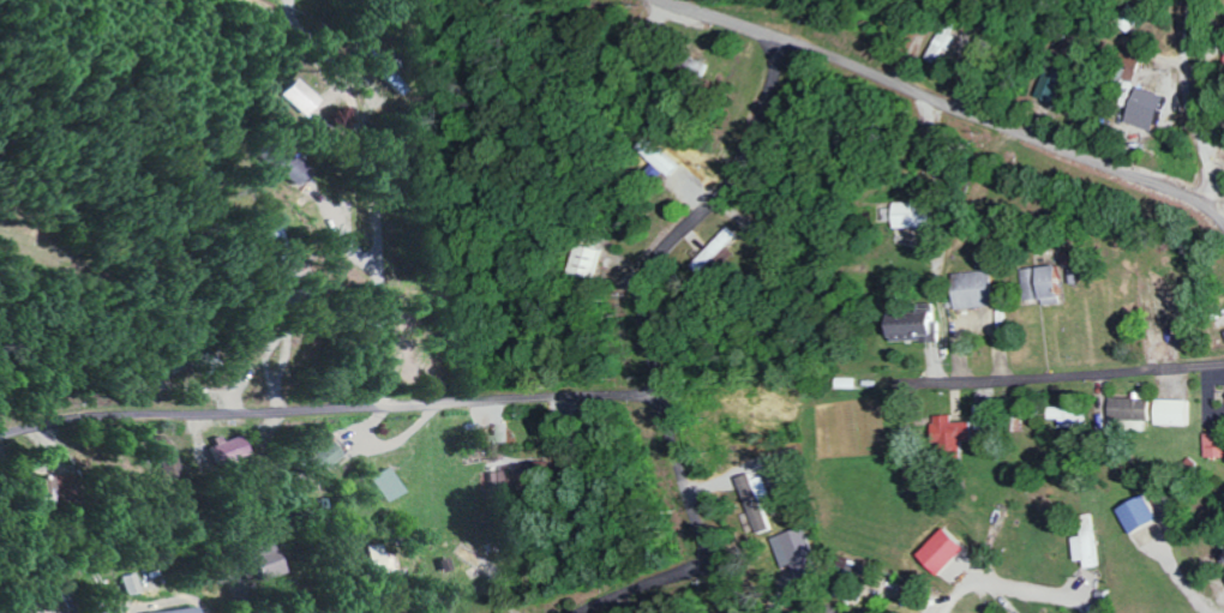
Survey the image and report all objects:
building: (940, 42)
building: (692, 66)
building: (1127, 66)
building: (1050, 84)
building: (301, 96)
road: (941, 106)
building: (1146, 109)
road: (1189, 114)
road: (358, 131)
building: (659, 155)
road: (451, 161)
building: (280, 166)
road: (731, 178)
building: (884, 215)
building: (907, 216)
building: (269, 248)
building: (584, 262)
building: (1040, 284)
building: (971, 289)
building: (910, 326)
road: (646, 343)
road: (377, 357)
road: (466, 360)
road: (611, 397)
building: (1130, 408)
building: (1174, 413)
building: (1069, 415)
building: (948, 435)
building: (1214, 445)
building: (227, 449)
building: (323, 456)
building: (167, 458)
building: (509, 469)
road: (684, 479)
building: (388, 485)
building: (43, 489)
building: (755, 501)
building: (1135, 515)
building: (1084, 542)
building: (938, 552)
building: (796, 554)
building: (383, 559)
building: (266, 560)
building: (848, 569)
road: (1076, 575)
road: (641, 582)
building: (137, 584)
road: (720, 587)
road: (1001, 587)
building: (43, 605)
building: (824, 609)
building: (184, 611)

